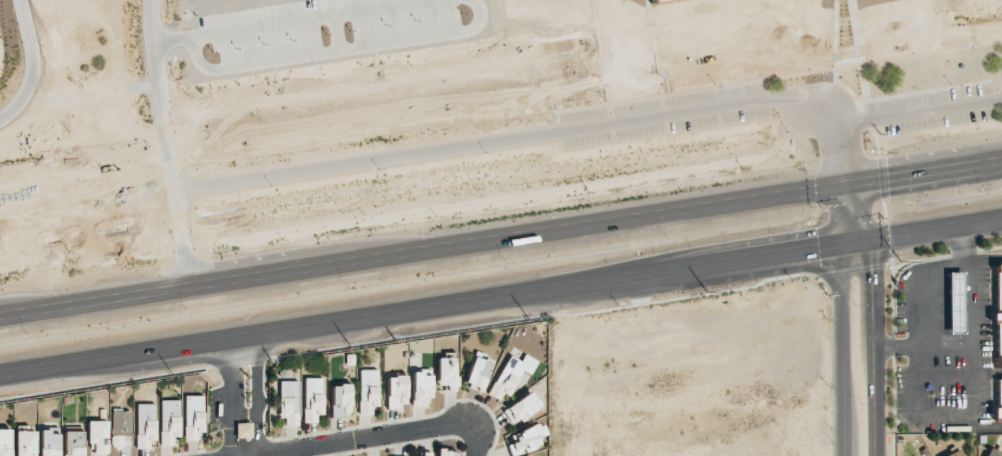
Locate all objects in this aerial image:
road: (32, 64)
road: (501, 122)
traffic signals: (813, 247)
traffic signals: (872, 272)
road: (500, 296)
road: (926, 303)
building: (953, 304)
building: (997, 315)
road: (872, 348)
road: (840, 349)
building: (477, 371)
building: (446, 372)
building: (511, 375)
building: (421, 387)
building: (367, 391)
building: (396, 391)
building: (313, 395)
road: (230, 397)
road: (255, 397)
building: (340, 400)
building: (998, 401)
building: (288, 402)
building: (521, 408)
road: (243, 412)
building: (193, 416)
building: (169, 421)
building: (145, 425)
building: (121, 429)
building: (97, 437)
road: (364, 439)
building: (527, 439)
building: (5, 442)
road: (475, 442)
building: (24, 443)
building: (48, 443)
building: (73, 443)
building: (447, 452)
building: (425, 453)
building: (955, 453)
building: (993, 453)

